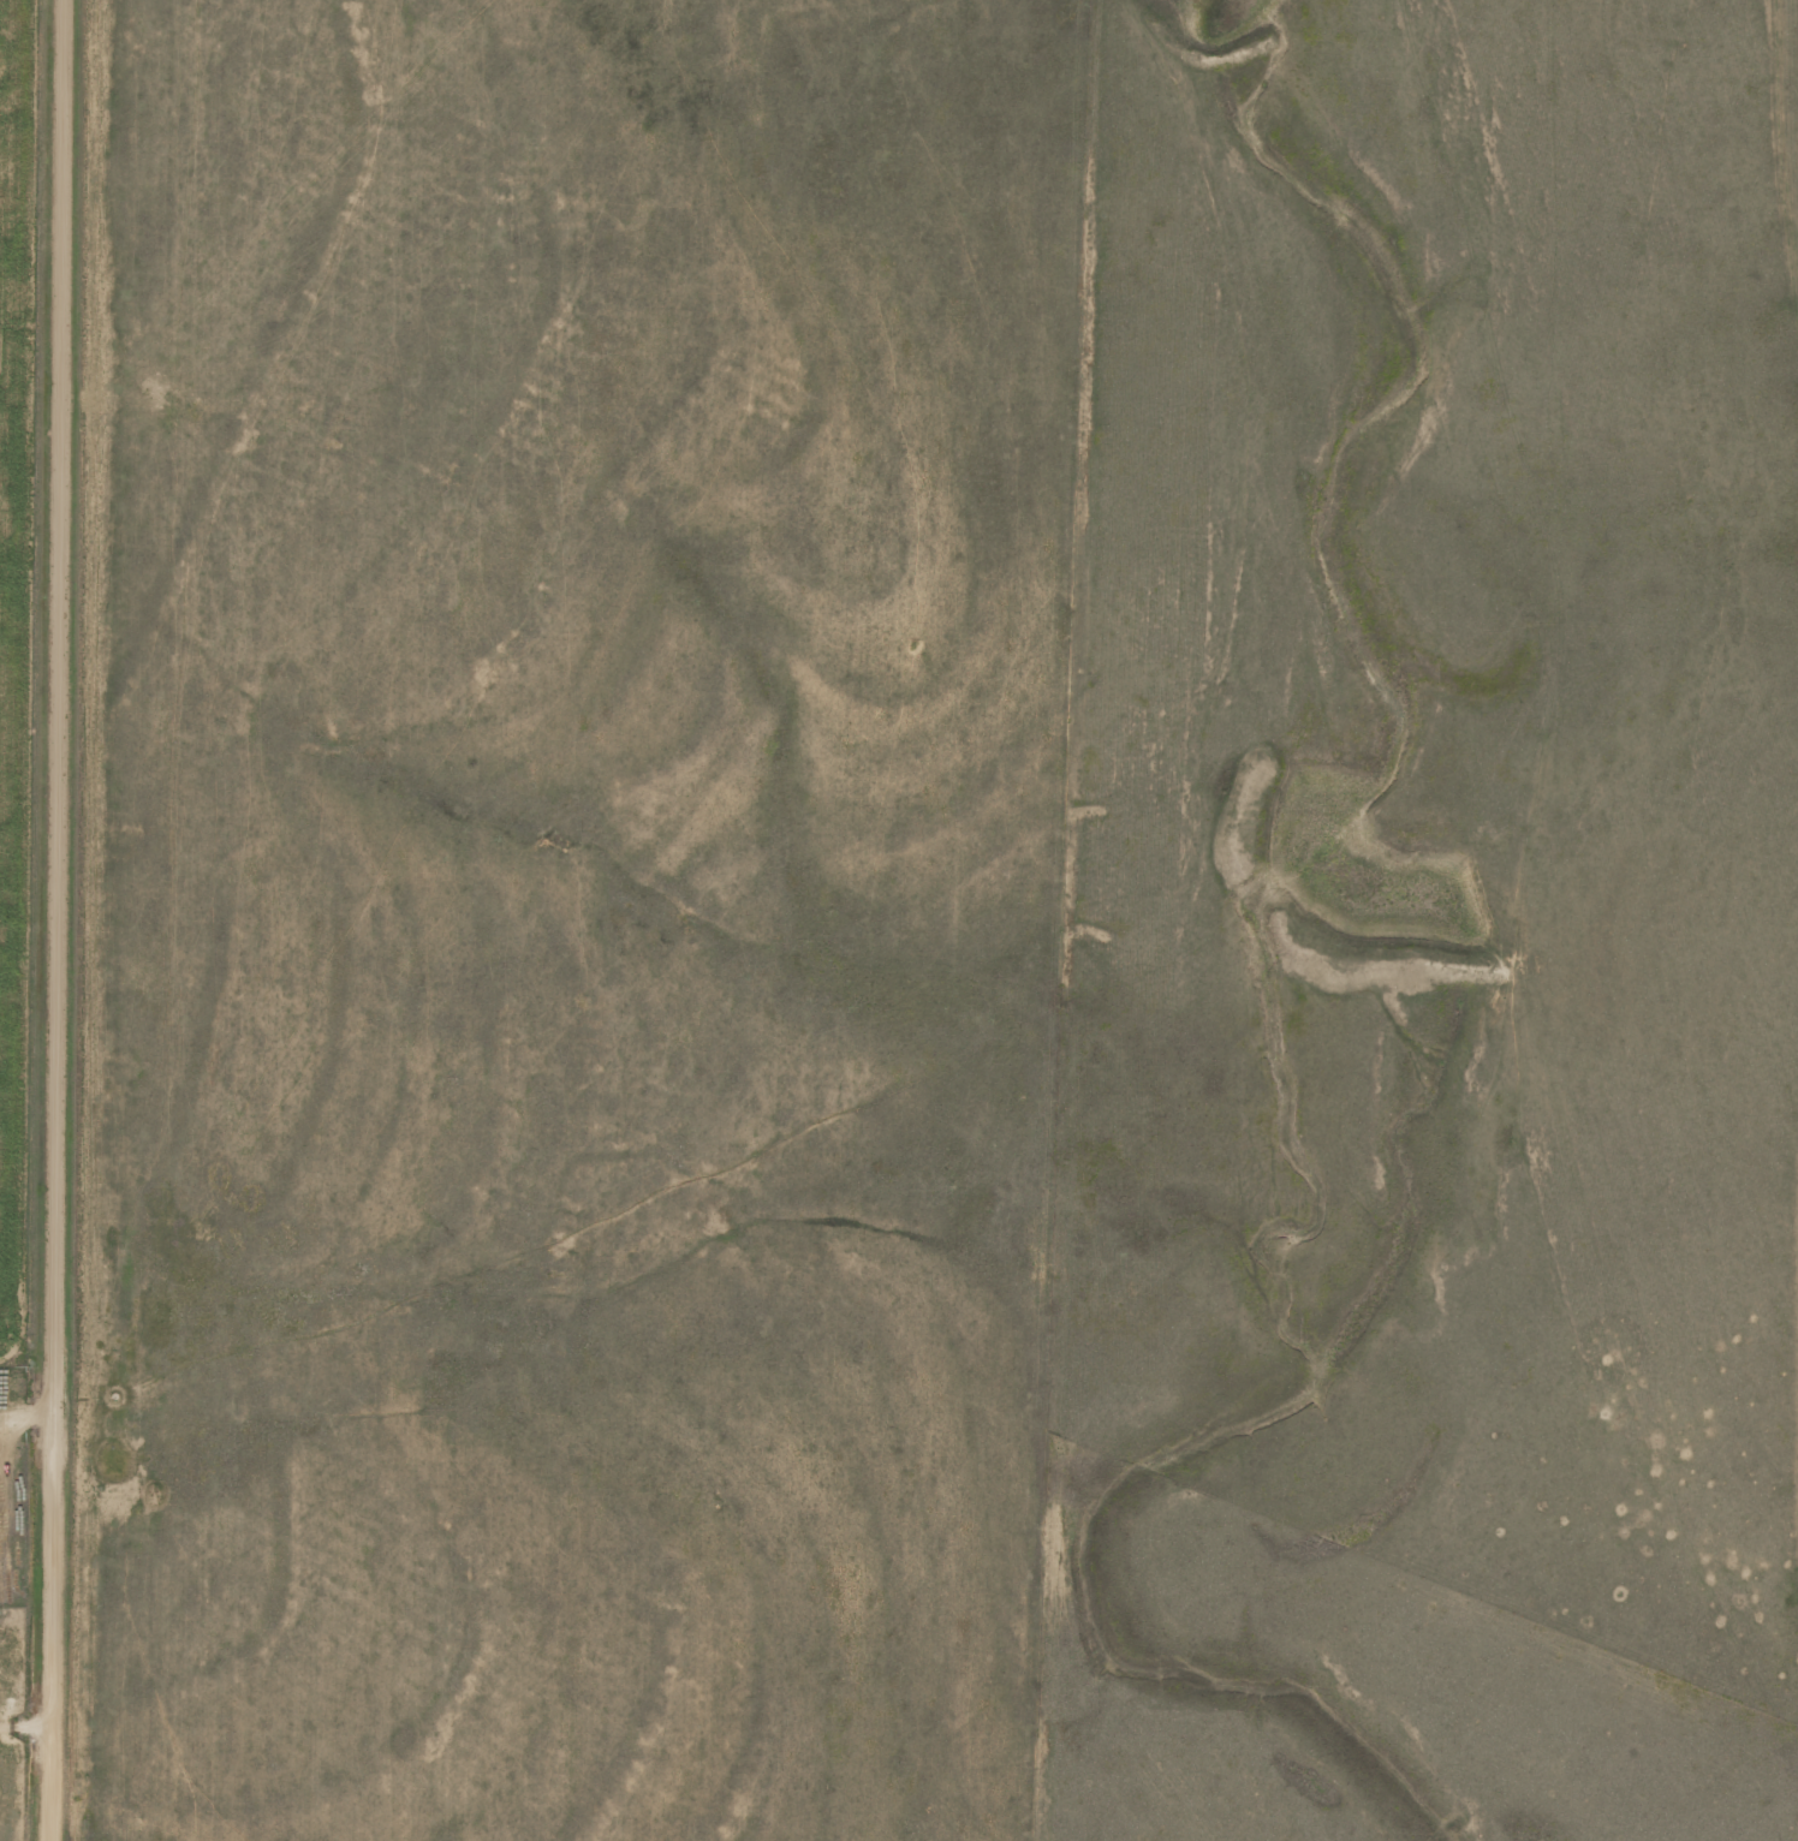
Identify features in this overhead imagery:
road: (61, 920)

